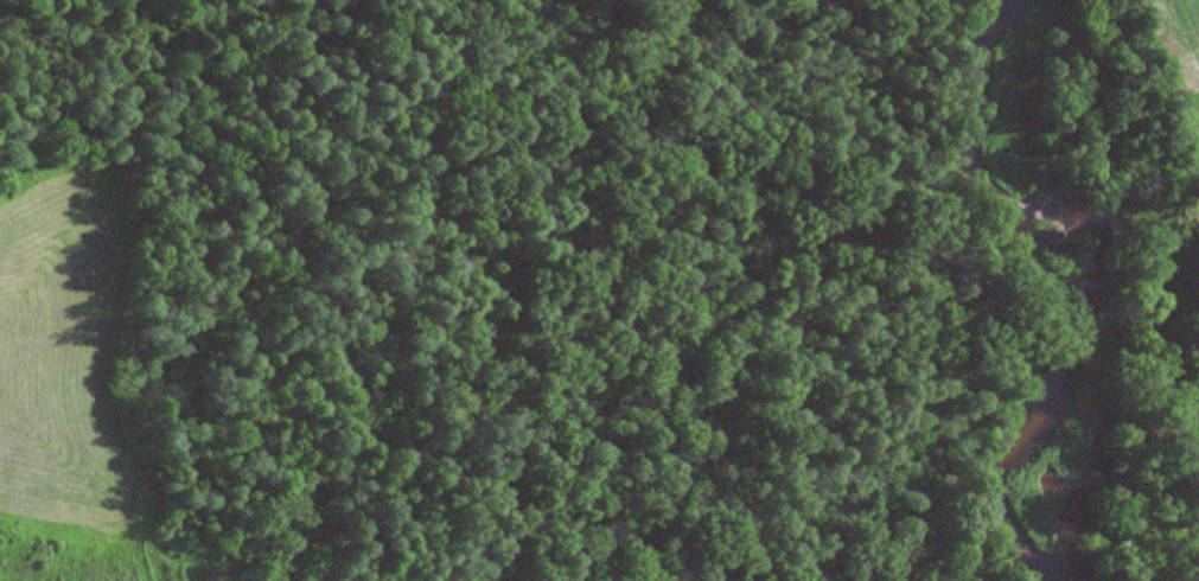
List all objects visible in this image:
river: (1025, 12)
river: (1059, 288)
river: (1071, 550)

